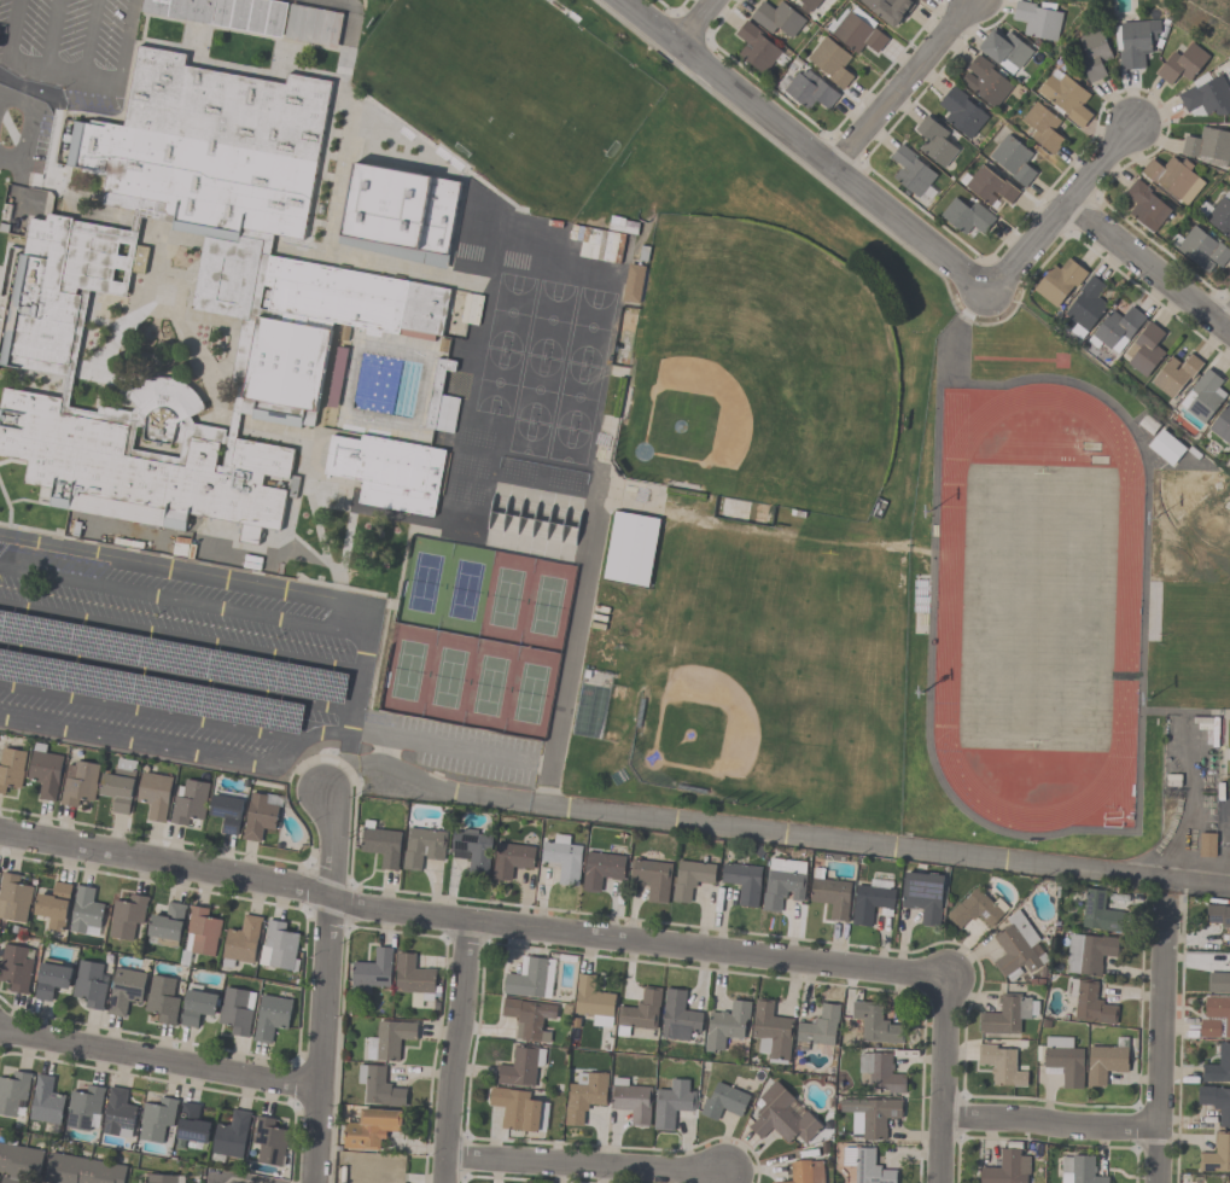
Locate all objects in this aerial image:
building: (921, 0)
building: (810, 4)
building: (888, 8)
building: (223, 12)
building: (776, 18)
building: (1038, 18)
road: (694, 21)
building: (313, 24)
road: (10, 29)
building: (856, 30)
road: (48, 37)
road: (88, 41)
building: (1135, 41)
building: (1004, 47)
building: (756, 48)
parking lot: (68, 49)
building: (1094, 53)
building: (830, 60)
building: (1182, 64)
building: (985, 81)
road: (899, 82)
road: (103, 86)
building: (809, 89)
building: (1066, 97)
building: (1207, 97)
road: (17, 100)
building: (961, 112)
road: (344, 115)
building: (1042, 127)
building: (934, 140)
building: (1208, 144)
road: (806, 145)
road: (24, 148)
building: (1013, 158)
building: (911, 173)
building: (1174, 177)
building: (990, 186)
building: (1146, 205)
building: (400, 208)
road: (1059, 209)
building: (1217, 214)
building: (967, 216)
building: (1200, 249)
road: (1147, 264)
building: (1059, 281)
building: (634, 284)
building: (358, 292)
building: (1085, 305)
road: (1225, 316)
building: (1117, 330)
building: (1144, 349)
building: (1174, 374)
building: (1202, 396)
building: (439, 400)
building: (1222, 424)
building: (1166, 447)
building: (387, 471)
building: (630, 548)
road: (187, 570)
road: (183, 602)
building: (921, 605)
road: (180, 640)
road: (571, 655)
parking lot: (170, 662)
road: (361, 666)
road: (177, 677)
road: (151, 711)
road: (305, 739)
road: (348, 741)
road: (138, 745)
road: (443, 747)
road: (384, 750)
road: (368, 762)
road: (543, 765)
building: (11, 768)
building: (45, 771)
road: (334, 771)
road: (339, 776)
building: (78, 783)
building: (119, 785)
building: (153, 794)
building: (188, 802)
road: (1190, 809)
building: (226, 812)
building: (258, 816)
road: (1225, 831)
road: (803, 833)
road: (328, 841)
building: (380, 844)
building: (1207, 845)
building: (422, 846)
building: (472, 849)
building: (562, 858)
building: (511, 859)
road: (1223, 862)
road: (167, 863)
building: (602, 868)
road: (1226, 873)
building: (652, 878)
building: (690, 878)
building: (742, 881)
building: (783, 882)
building: (830, 893)
building: (922, 896)
building: (13, 898)
building: (870, 903)
building: (53, 905)
building: (975, 909)
building: (86, 913)
building: (1098, 913)
building: (126, 916)
building: (1218, 916)
building: (167, 922)
building: (202, 931)
building: (241, 940)
road: (637, 944)
building: (278, 946)
building: (1018, 948)
building: (1088, 952)
building: (14, 967)
building: (373, 969)
building: (412, 975)
building: (531, 978)
building: (51, 979)
building: (1218, 980)
building: (89, 984)
building: (124, 990)
building: (161, 1000)
building: (593, 1001)
building: (1089, 1002)
building: (196, 1007)
building: (235, 1010)
building: (640, 1012)
building: (1008, 1014)
building: (270, 1016)
building: (678, 1016)
building: (529, 1018)
building: (1214, 1018)
building: (876, 1024)
building: (725, 1025)
building: (818, 1027)
building: (771, 1031)
road: (325, 1037)
building: (390, 1039)
road: (1161, 1039)
road: (455, 1054)
road: (161, 1059)
building: (1061, 1060)
building: (1104, 1063)
building: (1001, 1065)
building: (520, 1066)
building: (1217, 1066)
building: (880, 1073)
road: (944, 1080)
building: (379, 1086)
building: (13, 1092)
building: (584, 1097)
building: (631, 1100)
building: (46, 1101)
building: (723, 1101)
building: (1216, 1101)
building: (671, 1102)
building: (83, 1107)
building: (515, 1109)
building: (118, 1114)
building: (781, 1115)
building: (870, 1115)
building: (156, 1119)
road: (1051, 1121)
building: (191, 1125)
building: (369, 1129)
building: (231, 1135)
building: (268, 1141)
building: (1217, 1154)
building: (18, 1162)
road: (583, 1162)
building: (865, 1166)
building: (1005, 1169)
building: (1080, 1169)
building: (81, 1170)
building: (804, 1172)
building: (161, 1178)
road: (234, 1179)

